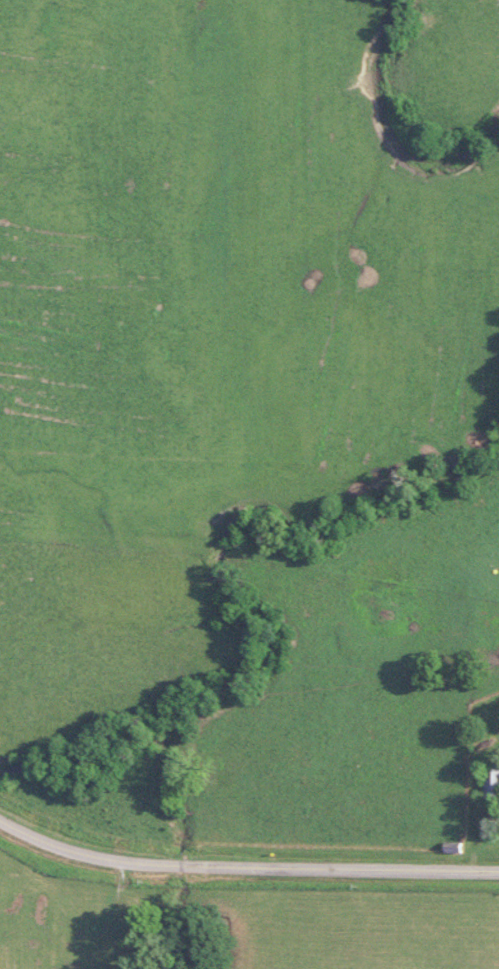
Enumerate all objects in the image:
building: (490, 781)
building: (449, 847)
road: (245, 866)

